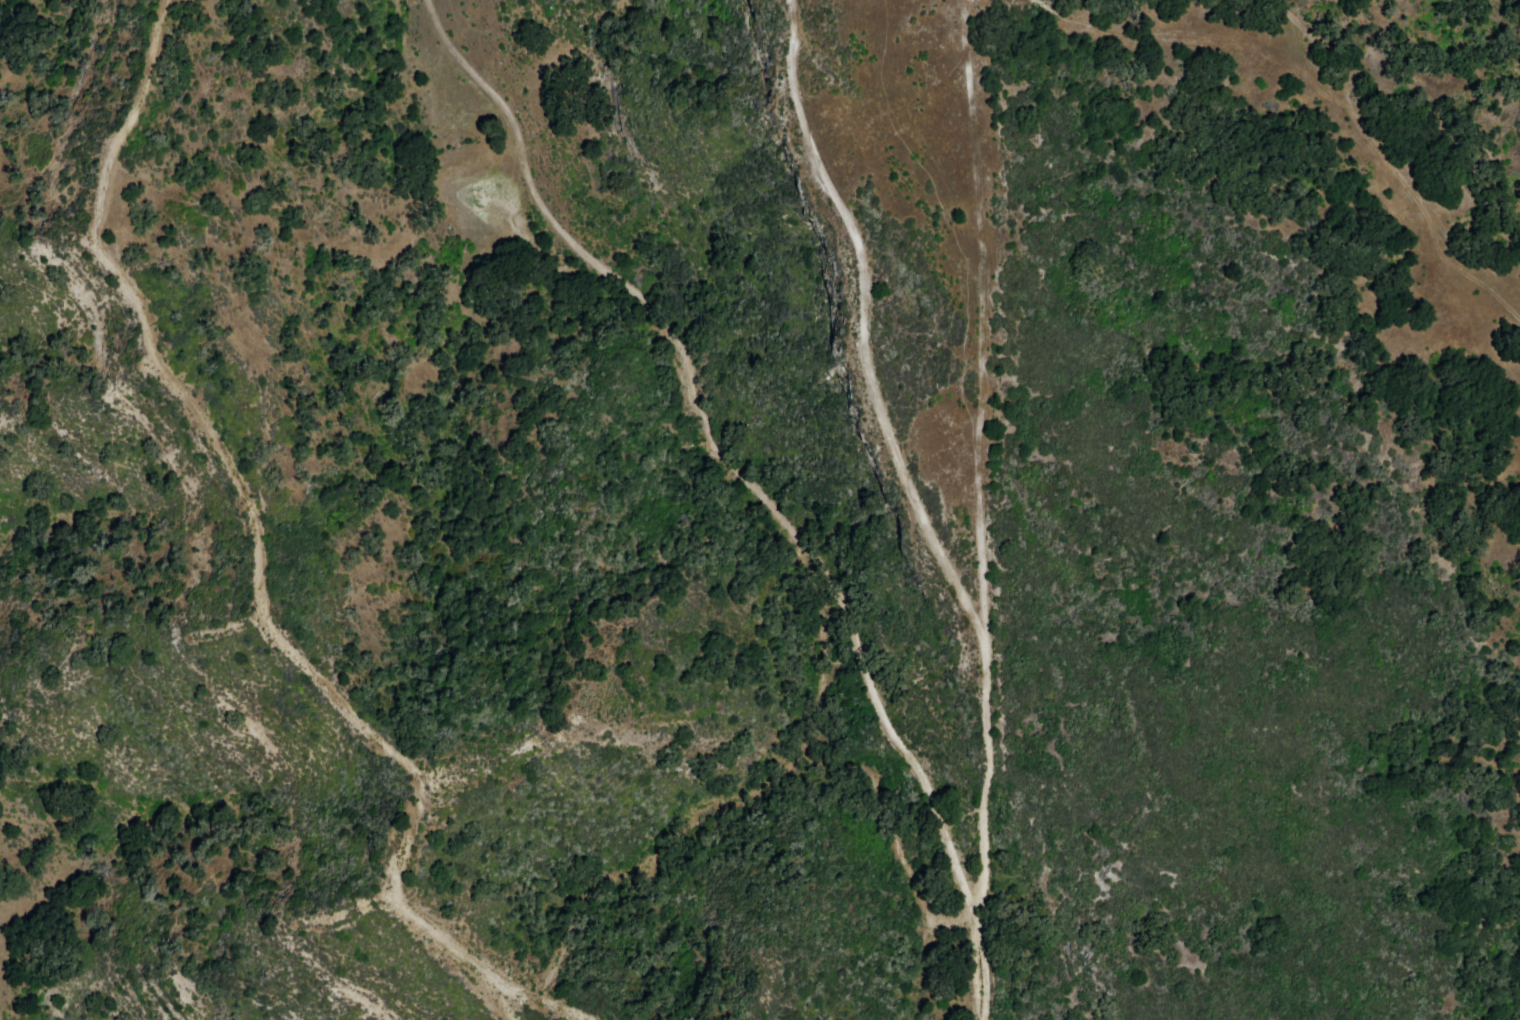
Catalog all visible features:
road: (1386, 168)

